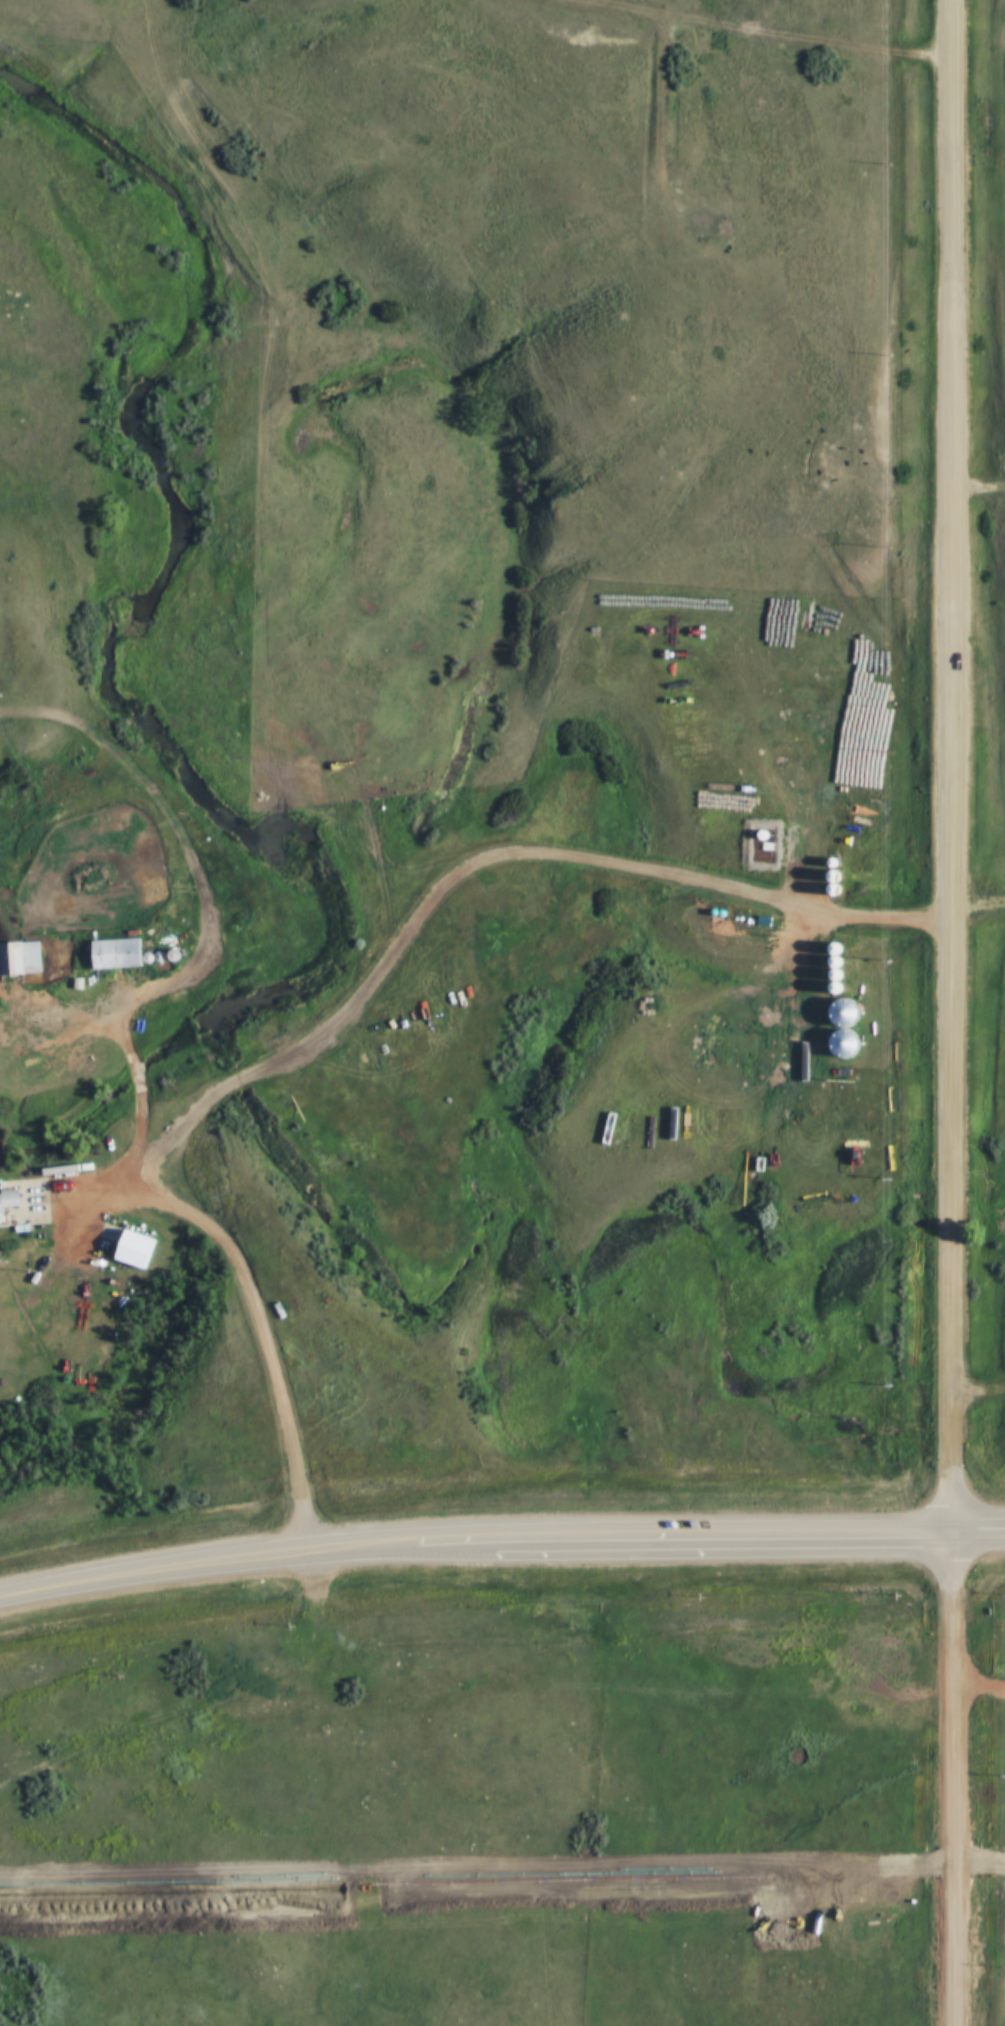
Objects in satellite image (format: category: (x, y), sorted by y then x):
road: (750, 35)
road: (719, 885)
building: (114, 953)
building: (19, 958)
road: (949, 1013)
building: (7, 1199)
road: (181, 1218)
building: (134, 1249)
building: (41, 1356)
building: (338, 1469)
road: (500, 1541)

